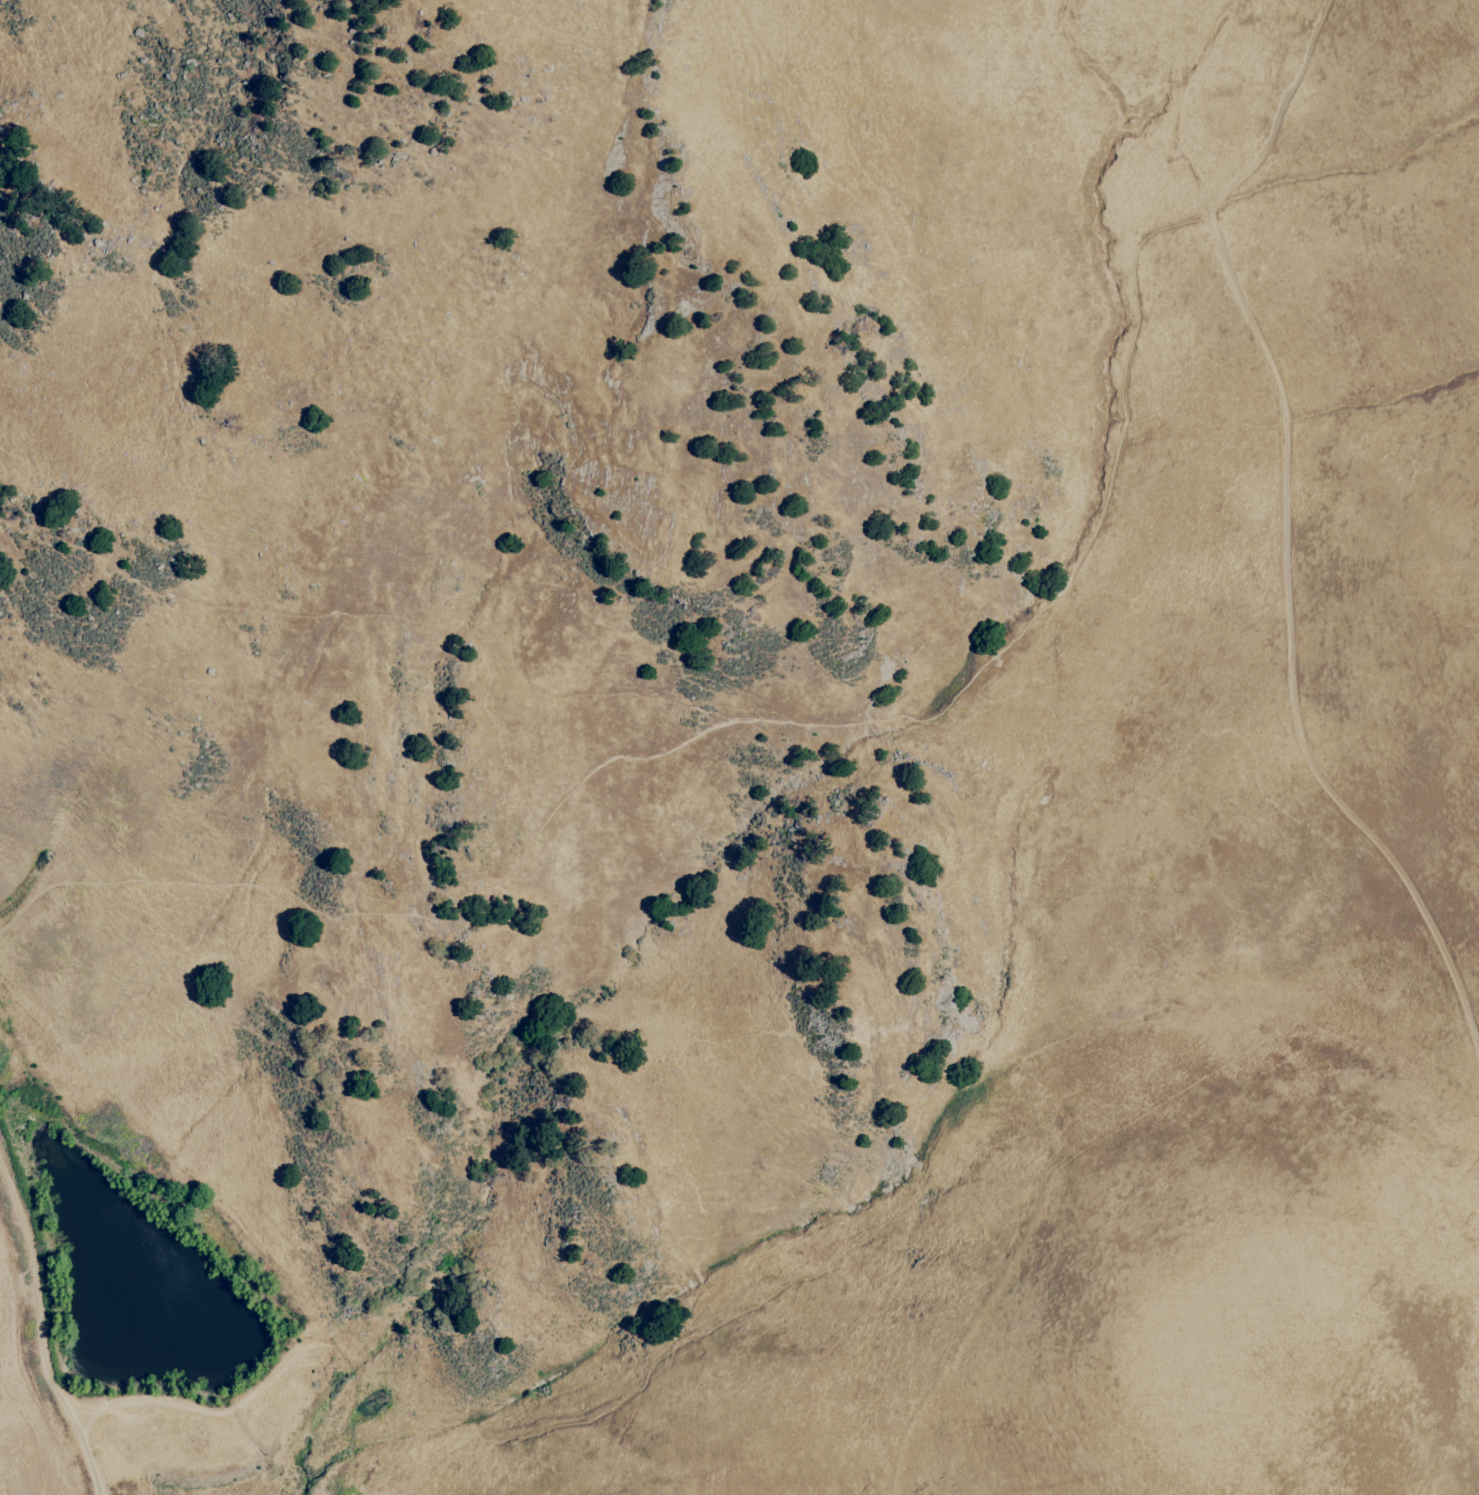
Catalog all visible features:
road: (1284, 115)
road: (1290, 647)
road: (40, 1333)
dam: (218, 1422)

